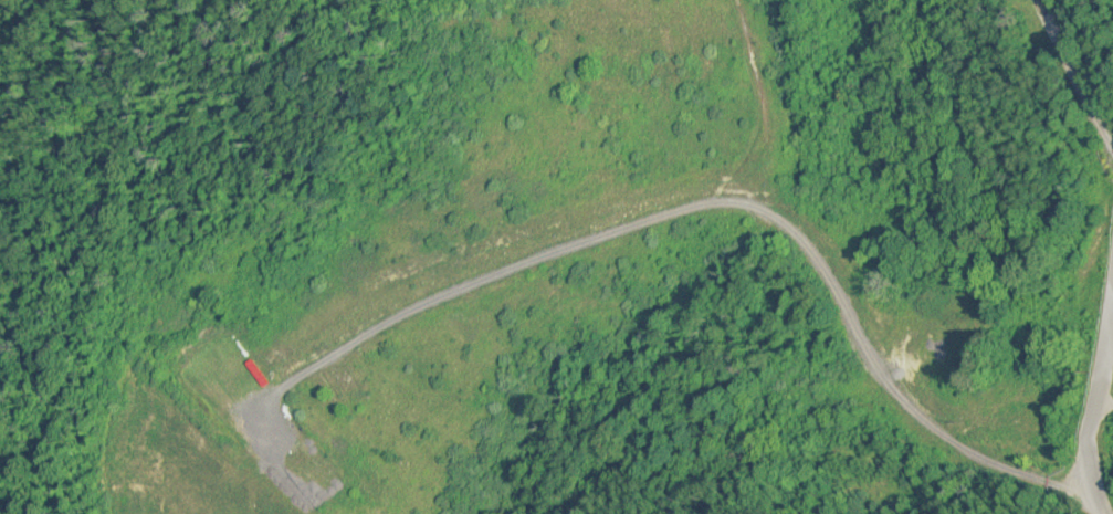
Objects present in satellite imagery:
road: (1094, 385)

